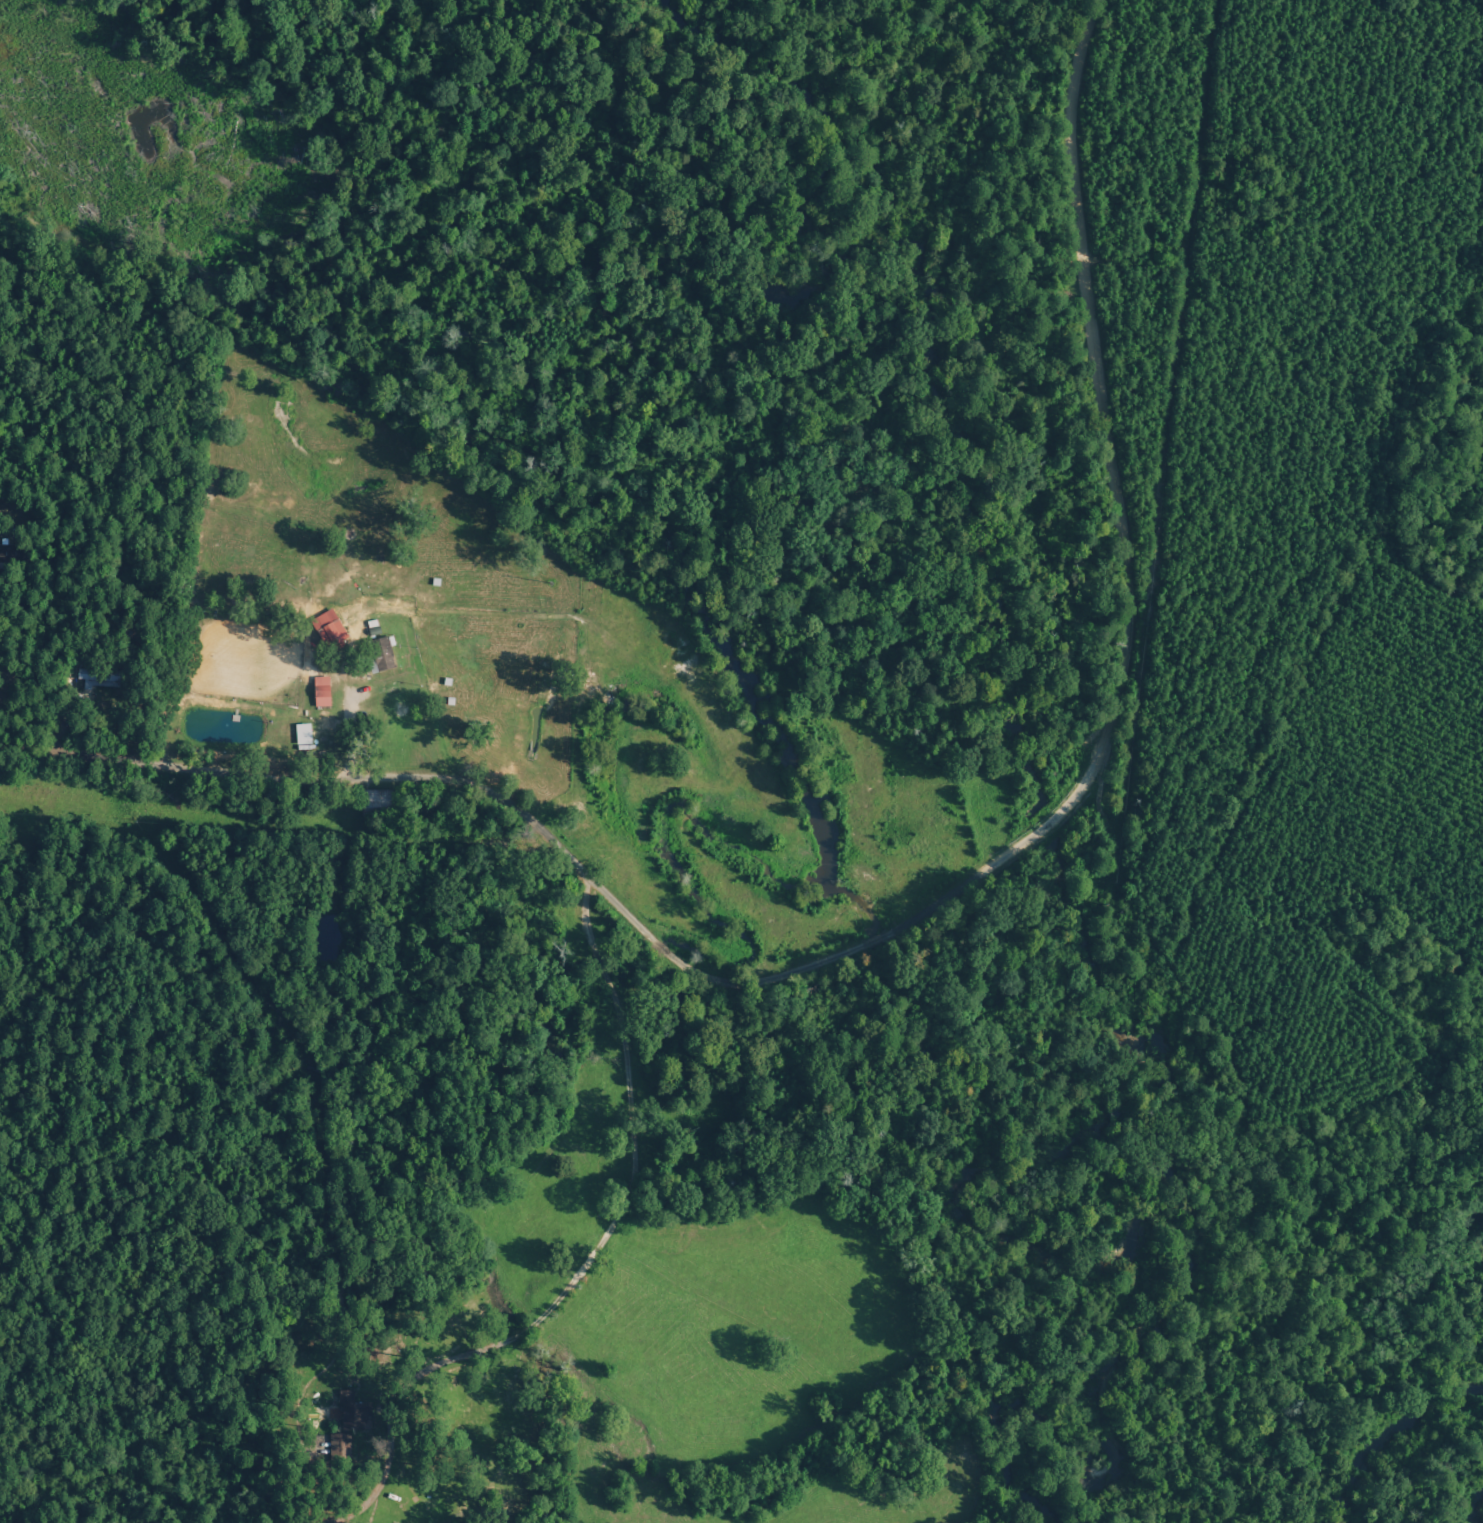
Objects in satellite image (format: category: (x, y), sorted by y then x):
building: (321, 691)
building: (303, 733)
road: (940, 901)
road: (614, 1182)
building: (356, 1415)

